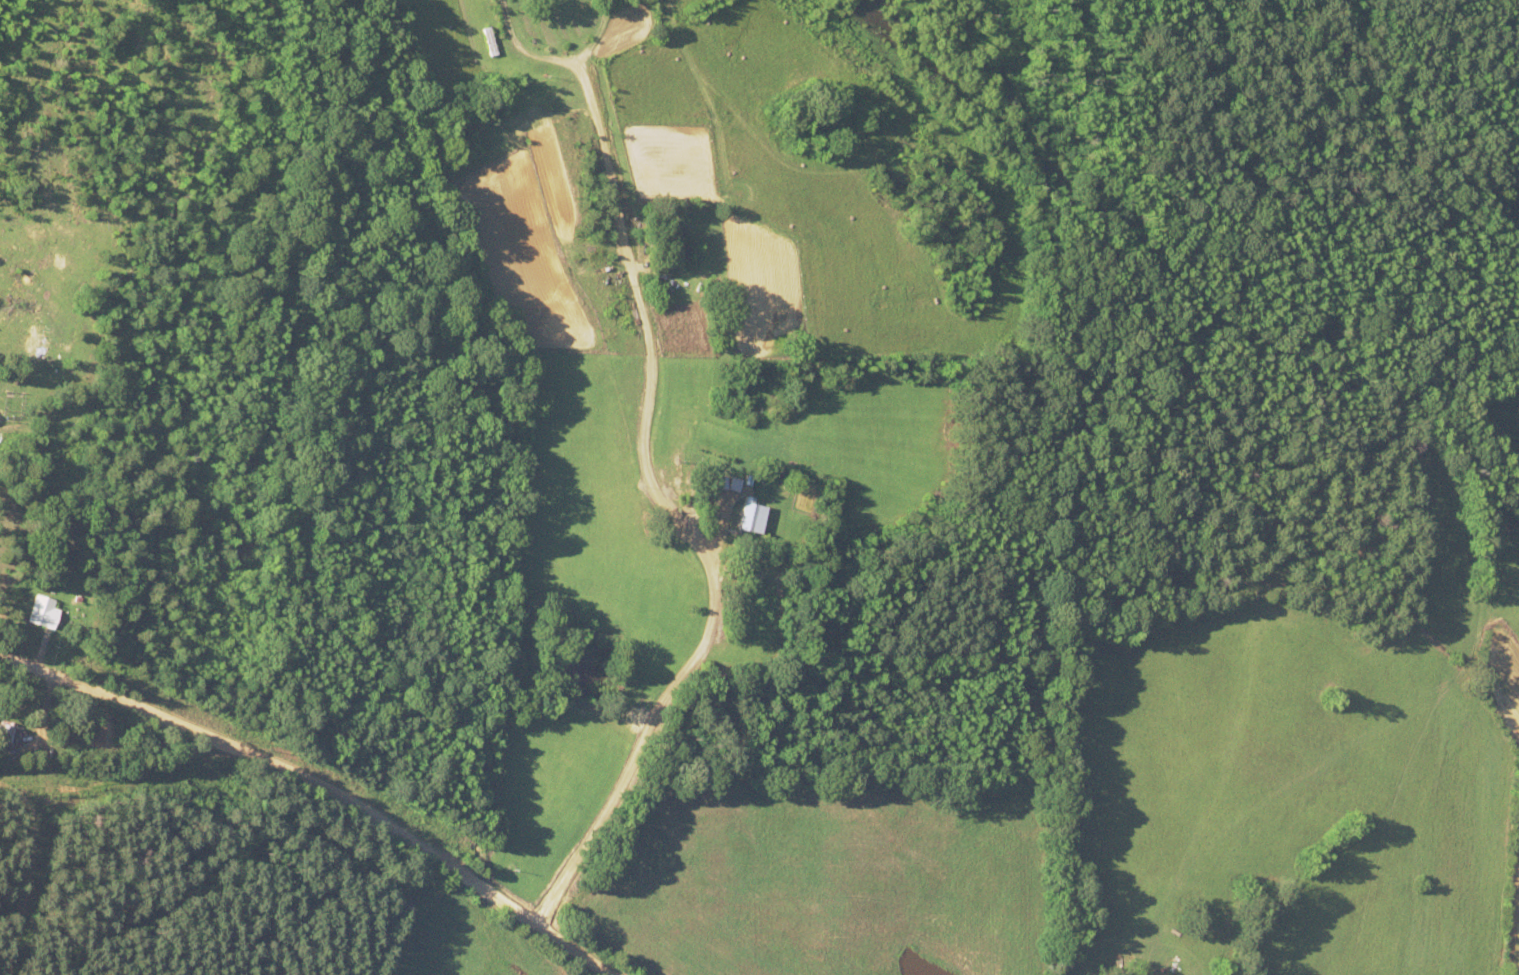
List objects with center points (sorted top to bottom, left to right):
building: (520, 113)
building: (675, 246)
building: (749, 517)
road: (771, 559)
building: (7, 733)
road: (318, 784)

